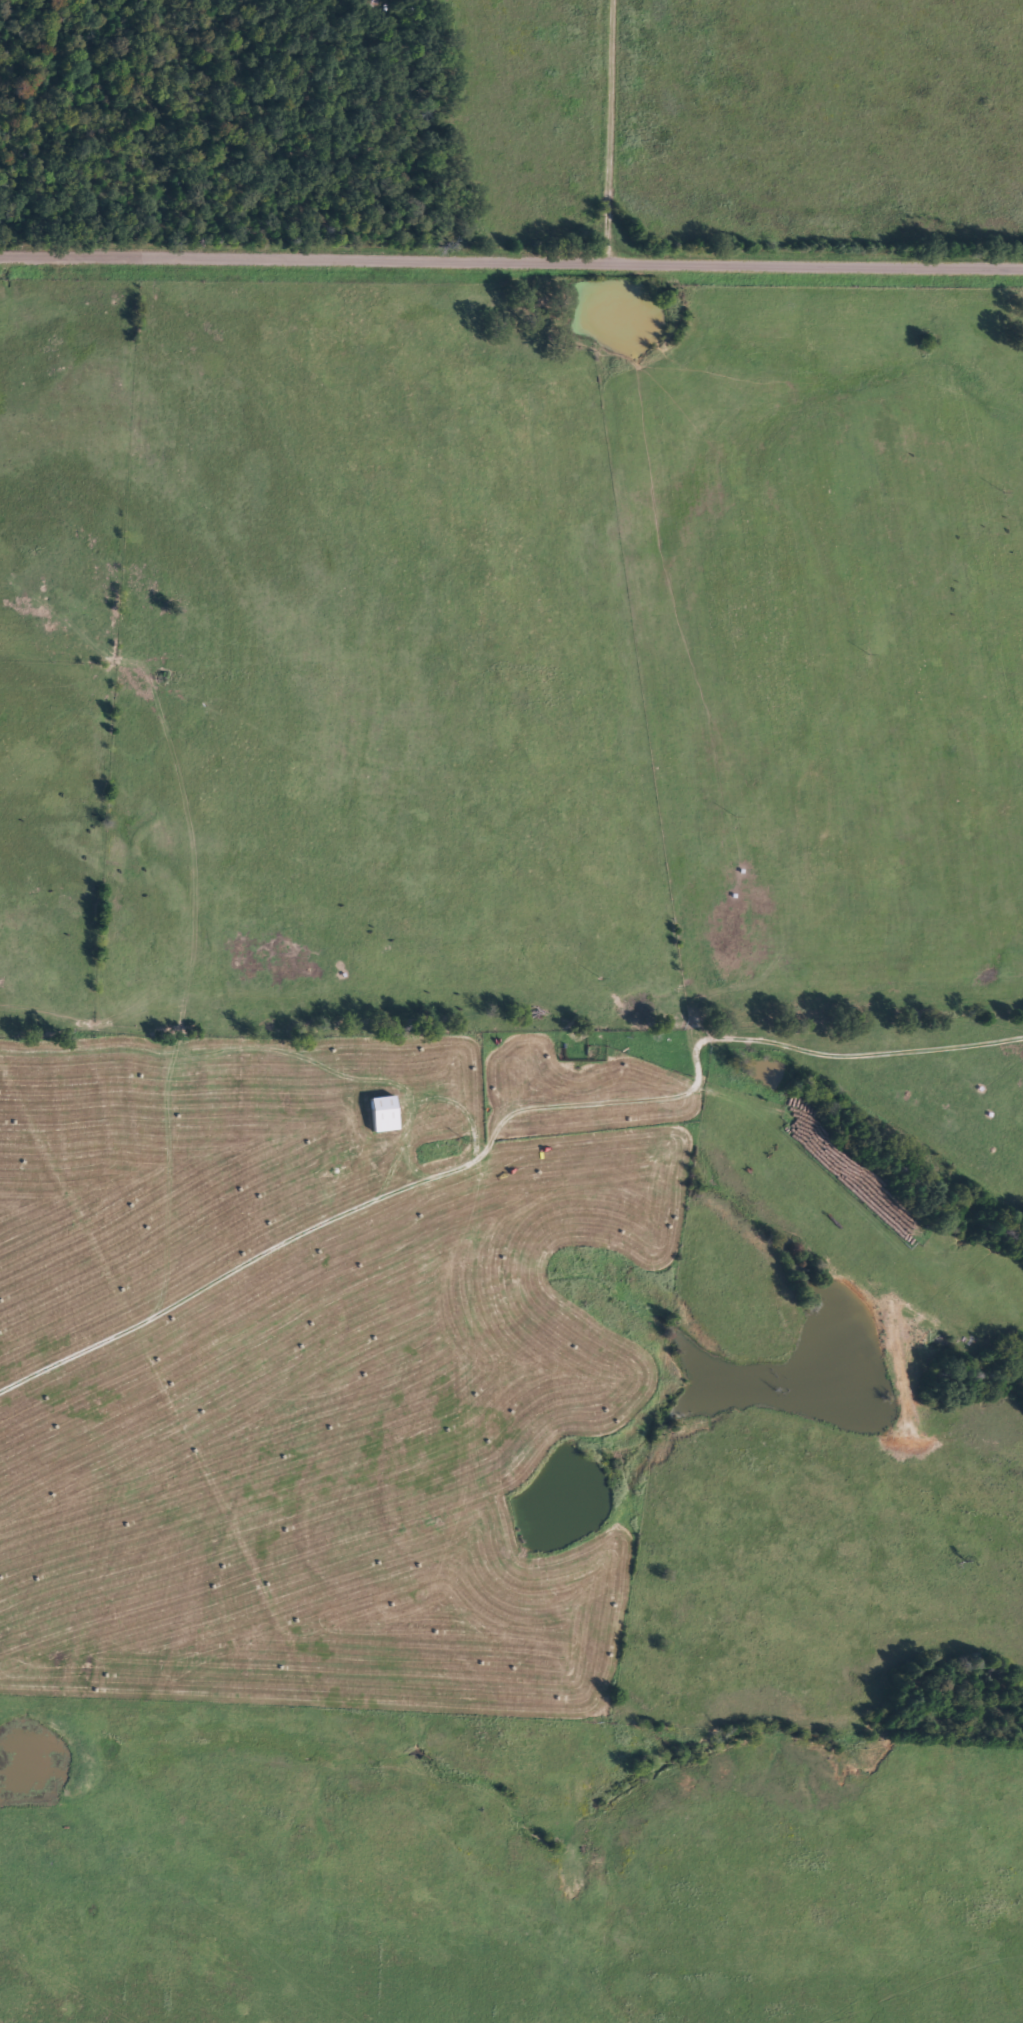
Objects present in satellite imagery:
road: (467, 120)
road: (597, 122)
road: (511, 244)
building: (384, 1115)

